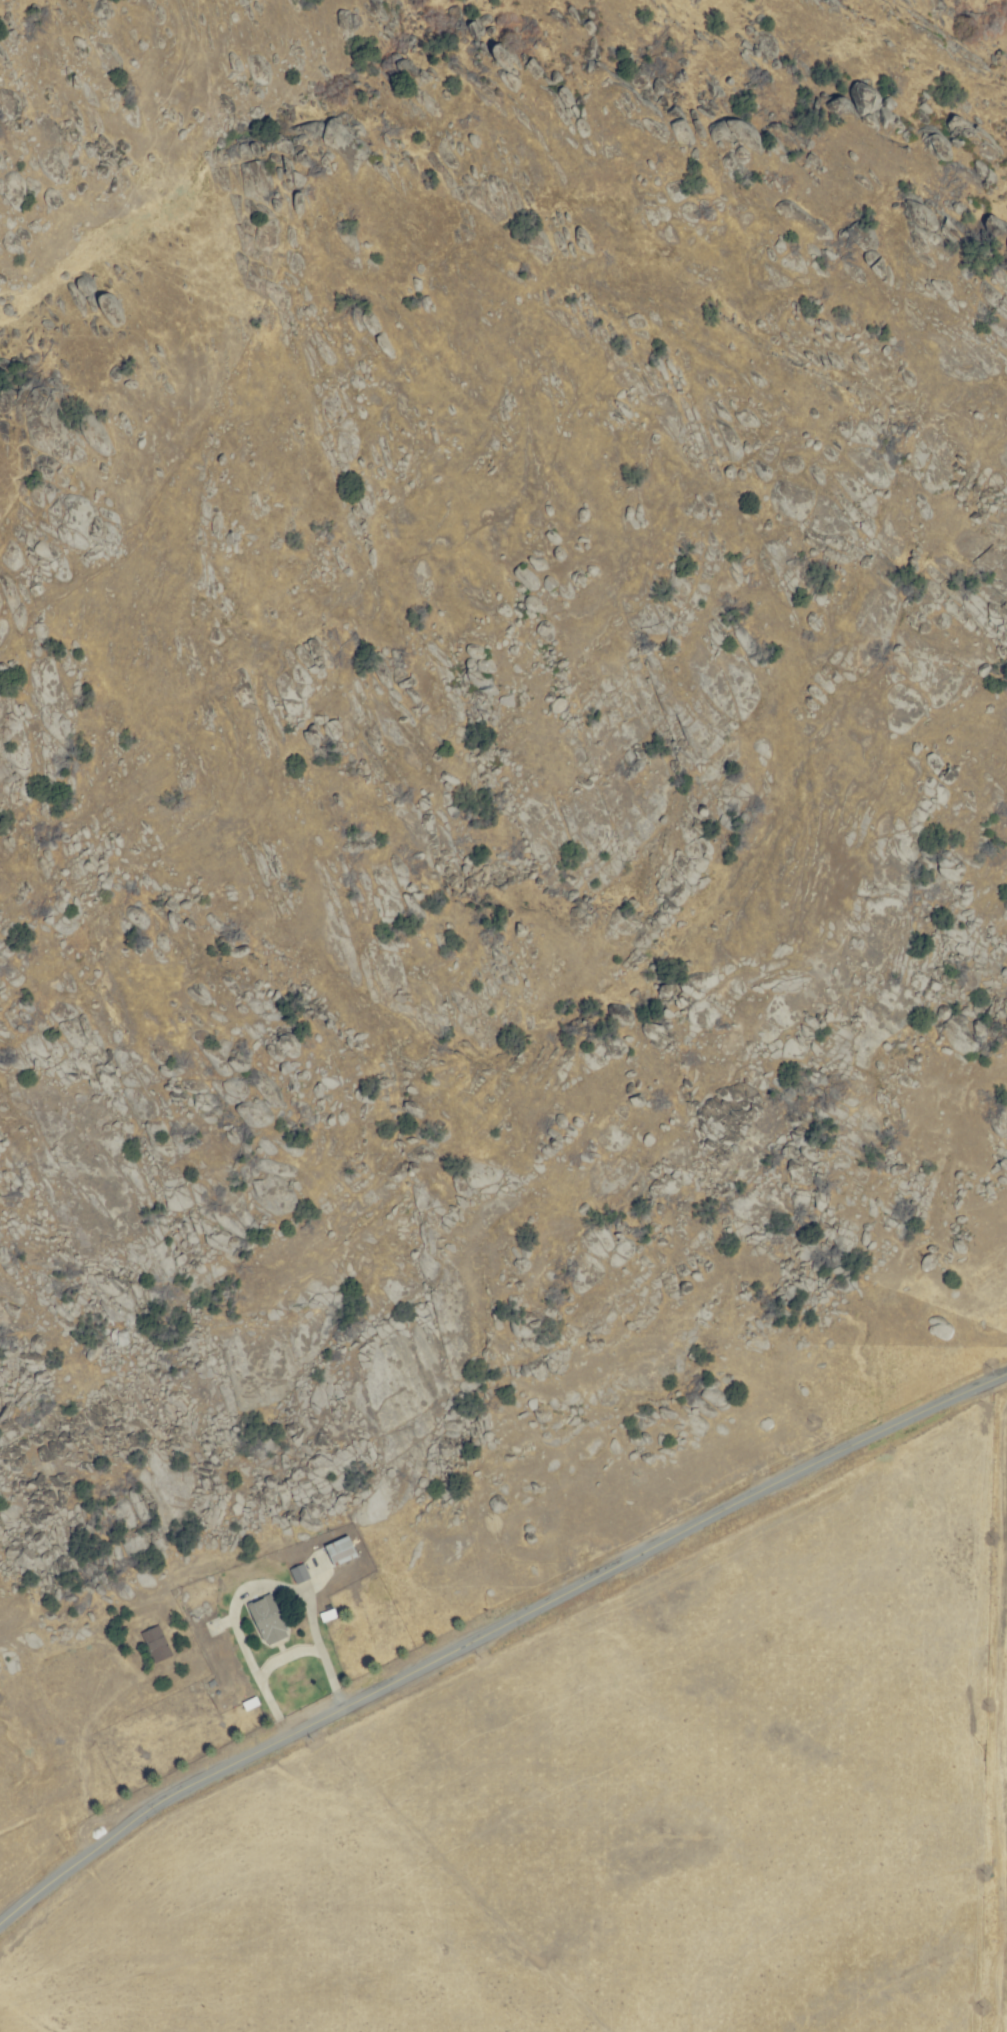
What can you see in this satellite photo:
road: (653, 1546)
building: (342, 1550)
building: (300, 1573)
building: (269, 1619)
crop: (580, 1747)
road: (143, 1812)
road: (449, 1880)

